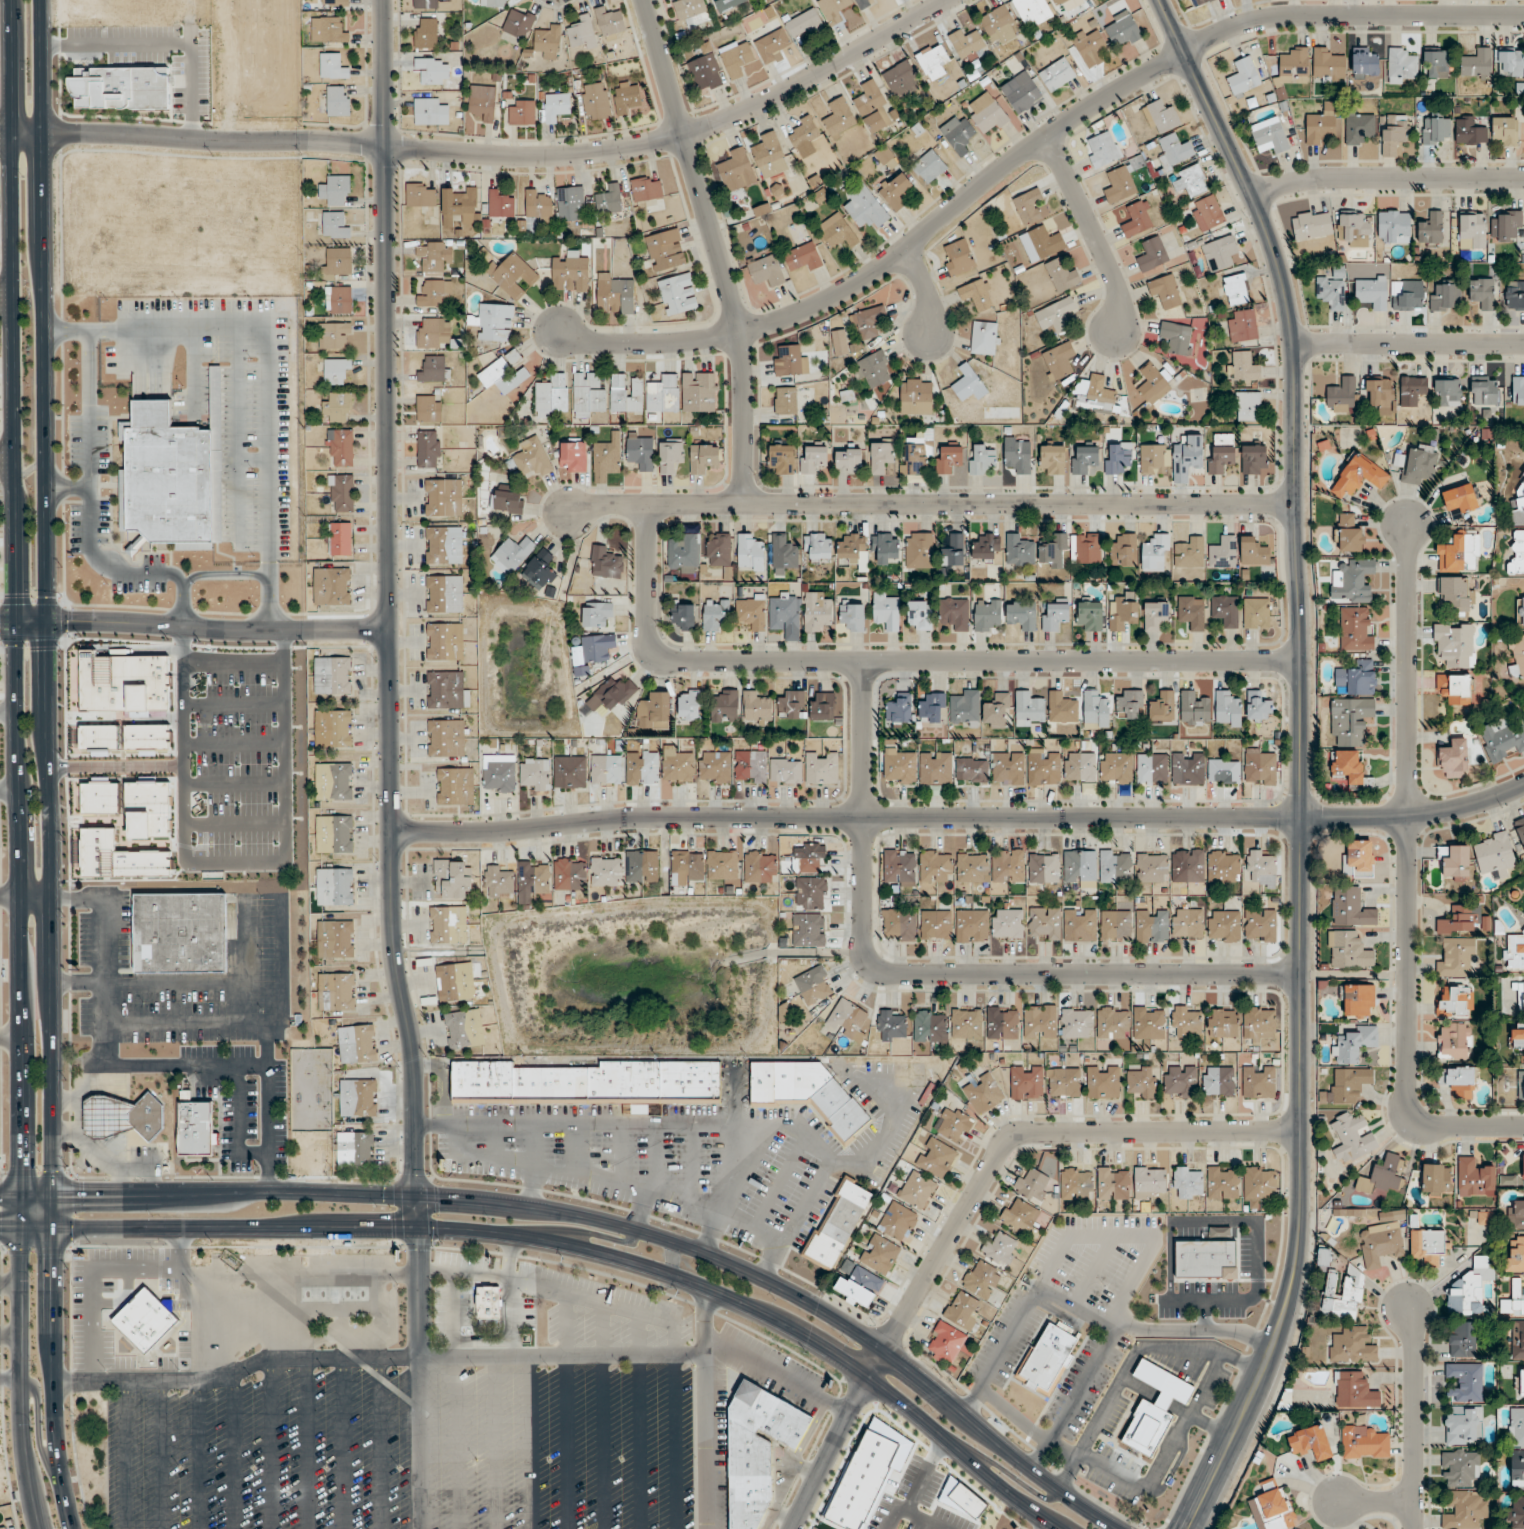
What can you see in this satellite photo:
building: (1058, 2)
building: (1200, 2)
building: (335, 3)
building: (493, 3)
building: (864, 3)
building: (425, 4)
building: (728, 4)
building: (833, 10)
building: (691, 12)
building: (1032, 12)
building: (610, 23)
building: (518, 24)
building: (804, 24)
building: (999, 26)
building: (328, 30)
building: (1124, 31)
building: (425, 33)
building: (582, 34)
building: (548, 42)
building: (967, 44)
building: (772, 46)
building: (1090, 46)
building: (739, 59)
building: (933, 61)
building: (1436, 62)
building: (1510, 63)
building: (1364, 64)
building: (1476, 64)
building: (1328, 65)
building: (332, 66)
building: (1401, 66)
building: (706, 68)
building: (1294, 68)
building: (433, 71)
building: (1057, 75)
building: (1244, 78)
building: (901, 80)
building: (1021, 92)
building: (627, 98)
building: (338, 101)
building: (596, 101)
building: (483, 104)
building: (871, 106)
building: (556, 107)
building: (430, 112)
building: (521, 113)
building: (987, 114)
building: (838, 117)
building: (1161, 117)
building: (1319, 126)
building: (1359, 128)
building: (1395, 129)
building: (1437, 130)
building: (1505, 130)
building: (1470, 131)
building: (958, 135)
building: (1270, 136)
road: (1029, 149)
building: (1103, 150)
building: (1175, 151)
road: (490, 155)
building: (770, 156)
building: (929, 167)
building: (737, 171)
road: (1386, 177)
building: (1191, 181)
building: (1120, 184)
building: (336, 191)
building: (647, 191)
building: (896, 191)
building: (421, 195)
building: (610, 200)
building: (569, 203)
building: (460, 205)
building: (500, 205)
building: (539, 205)
building: (1029, 206)
building: (865, 208)
building: (1208, 213)
building: (1138, 219)
building: (336, 225)
building: (1312, 225)
building: (1394, 226)
building: (1506, 226)
building: (1430, 229)
building: (1352, 230)
road: (1092, 231)
building: (1472, 231)
building: (837, 232)
building: (1042, 243)
road: (714, 248)
building: (665, 250)
building: (1219, 253)
building: (1152, 254)
building: (434, 257)
building: (803, 258)
building: (959, 258)
building: (338, 263)
building: (766, 270)
building: (570, 273)
building: (1061, 275)
building: (513, 276)
road: (926, 289)
building: (1236, 290)
building: (1332, 291)
building: (1372, 291)
building: (1165, 292)
building: (434, 293)
building: (1483, 293)
building: (678, 294)
building: (614, 295)
building: (977, 295)
building: (1514, 295)
road: (5, 296)
building: (1445, 296)
building: (1410, 297)
building: (338, 300)
building: (1056, 315)
building: (493, 323)
building: (867, 323)
building: (1242, 326)
building: (430, 333)
building: (334, 335)
building: (985, 338)
building: (1176, 338)
building: (840, 343)
road: (1409, 343)
building: (1059, 360)
building: (790, 361)
building: (1243, 367)
building: (434, 369)
building: (875, 369)
building: (336, 370)
building: (503, 375)
road: (270, 376)
building: (967, 384)
building: (1152, 384)
building: (1412, 390)
building: (1484, 390)
building: (1518, 391)
building: (699, 392)
building: (1447, 393)
building: (663, 394)
building: (626, 395)
building: (1095, 395)
building: (1341, 395)
building: (1380, 395)
building: (552, 396)
building: (589, 396)
building: (916, 396)
building: (786, 400)
building: (337, 407)
building: (1247, 407)
building: (429, 409)
road: (88, 427)
building: (341, 447)
building: (429, 449)
building: (640, 451)
building: (1221, 453)
building: (1018, 454)
building: (915, 455)
building: (670, 456)
building: (881, 456)
building: (1187, 456)
road: (6, 457)
building: (573, 457)
building: (606, 458)
building: (704, 458)
building: (1117, 458)
building: (532, 459)
building: (782, 459)
building: (813, 459)
building: (948, 459)
building: (981, 459)
building: (1052, 460)
building: (1085, 460)
building: (1154, 460)
building: (1253, 460)
building: (848, 461)
building: (1420, 464)
building: (161, 471)
building: (1358, 477)
building: (341, 493)
building: (443, 498)
building: (508, 501)
building: (1461, 501)
road: (932, 503)
building: (1517, 509)
building: (1348, 534)
building: (340, 539)
building: (444, 545)
building: (818, 547)
building: (851, 547)
building: (885, 547)
building: (987, 548)
building: (1085, 548)
building: (719, 550)
building: (919, 550)
building: (1019, 550)
building: (953, 551)
building: (1053, 551)
building: (1124, 551)
building: (1223, 552)
building: (1253, 552)
building: (514, 553)
building: (683, 553)
building: (750, 553)
building: (1190, 553)
building: (1456, 553)
building: (783, 554)
building: (1155, 554)
building: (1517, 555)
building: (605, 563)
building: (541, 570)
road: (122, 573)
building: (1352, 582)
building: (332, 587)
building: (1456, 593)
building: (444, 594)
building: (817, 610)
building: (887, 610)
building: (1225, 611)
building: (1521, 611)
building: (1123, 612)
building: (1191, 612)
building: (1256, 613)
building: (596, 614)
building: (715, 614)
building: (751, 614)
building: (955, 614)
road: (386, 615)
building: (785, 615)
building: (987, 615)
building: (1022, 615)
building: (852, 616)
building: (919, 616)
building: (1055, 616)
building: (1090, 616)
building: (1156, 616)
building: (682, 617)
road: (25, 619)
traffic signals: (50, 619)
traffic signals: (16, 620)
road: (218, 629)
building: (1356, 630)
building: (444, 642)
building: (1454, 645)
building: (595, 649)
building: (1516, 655)
road: (902, 660)
building: (333, 676)
building: (1357, 680)
building: (1455, 689)
building: (447, 691)
building: (614, 694)
building: (690, 705)
building: (1130, 705)
building: (792, 706)
building: (822, 706)
building: (725, 707)
building: (756, 707)
building: (1162, 707)
building: (1258, 707)
building: (965, 708)
building: (1062, 708)
building: (932, 709)
building: (1029, 709)
building: (899, 710)
building: (1194, 710)
building: (1227, 710)
building: (997, 711)
building: (1095, 711)
building: (654, 712)
building: (1351, 720)
building: (334, 729)
building: (445, 738)
building: (1502, 740)
road: (1301, 762)
building: (1453, 762)
road: (17, 765)
road: (51, 765)
building: (677, 766)
building: (714, 767)
building: (750, 767)
building: (1044, 767)
building: (1259, 767)
building: (642, 768)
building: (821, 768)
building: (900, 768)
building: (935, 768)
building: (1008, 768)
building: (1080, 768)
building: (1116, 769)
building: (1152, 769)
building: (1188, 769)
building: (1350, 769)
building: (605, 770)
building: (972, 770)
building: (786, 771)
building: (1223, 772)
building: (570, 773)
building: (499, 774)
building: (534, 775)
building: (334, 782)
building: (455, 787)
road: (959, 817)
building: (1520, 833)
building: (334, 834)
building: (1495, 855)
building: (809, 858)
building: (1358, 859)
building: (1454, 862)
building: (722, 866)
building: (936, 866)
building: (1008, 866)
building: (1115, 866)
building: (1188, 866)
building: (1261, 866)
building: (642, 867)
building: (760, 867)
building: (1080, 867)
building: (1152, 867)
building: (1223, 867)
building: (687, 868)
building: (899, 868)
building: (972, 868)
building: (1043, 868)
building: (606, 872)
building: (570, 874)
road: (1408, 877)
building: (453, 879)
building: (533, 880)
building: (499, 882)
building: (335, 887)
building: (810, 892)
road: (35, 896)
building: (1351, 908)
building: (1460, 920)
building: (1188, 923)
building: (1007, 924)
building: (1044, 924)
building: (448, 925)
building: (899, 925)
building: (936, 925)
building: (1080, 925)
building: (1116, 925)
building: (1260, 925)
building: (972, 926)
building: (1152, 926)
building: (1224, 926)
building: (809, 930)
building: (181, 933)
building: (335, 939)
road: (106, 942)
building: (1348, 950)
building: (1514, 953)
building: (1457, 959)
road: (931, 974)
building: (455, 982)
building: (814, 985)
building: (336, 992)
building: (1520, 996)
building: (1358, 1000)
building: (1455, 1001)
building: (846, 1021)
building: (1040, 1022)
building: (1186, 1022)
building: (1002, 1023)
building: (1077, 1023)
building: (1113, 1023)
building: (1149, 1023)
building: (1222, 1023)
building: (967, 1024)
building: (1259, 1024)
building: (891, 1027)
building: (931, 1027)
building: (465, 1029)
building: (1517, 1036)
building: (1454, 1041)
building: (357, 1044)
building: (1353, 1045)
building: (582, 1077)
road: (444, 1079)
building: (1180, 1081)
building: (1218, 1081)
building: (1458, 1081)
building: (1064, 1082)
building: (1103, 1082)
building: (1142, 1082)
building: (1258, 1082)
building: (1026, 1083)
building: (801, 1084)
building: (1348, 1084)
building: (1520, 1085)
building: (983, 1094)
building: (358, 1098)
building: (122, 1117)
road: (631, 1120)
building: (954, 1125)
building: (195, 1127)
building: (1352, 1138)
building: (355, 1151)
building: (936, 1158)
road: (831, 1161)
road: (533, 1163)
traffic signals: (22, 1164)
building: (1523, 1167)
building: (1383, 1175)
road: (652, 1177)
building: (1475, 1178)
building: (1436, 1180)
road: (605, 1181)
building: (1150, 1183)
building: (1188, 1183)
building: (1223, 1183)
building: (1260, 1183)
building: (1076, 1184)
building: (1113, 1184)
building: (1033, 1185)
road: (728, 1186)
building: (917, 1190)
traffic signals: (85, 1193)
traffic signals: (417, 1196)
road: (967, 1203)
building: (1516, 1215)
building: (1019, 1216)
building: (833, 1218)
road: (604, 1222)
building: (898, 1222)
traffic signals: (418, 1228)
road: (588, 1233)
building: (1381, 1241)
road: (571, 1246)
building: (1428, 1247)
building: (1000, 1248)
building: (880, 1255)
building: (1515, 1257)
building: (1205, 1259)
traffic signals: (52, 1260)
building: (981, 1280)
building: (859, 1287)
building: (334, 1294)
building: (1344, 1296)
building: (1470, 1296)
building: (1513, 1301)
building: (488, 1303)
building: (963, 1311)
building: (145, 1321)
building: (1461, 1340)
building: (1517, 1341)
building: (946, 1342)
building: (1352, 1346)
building: (1042, 1350)
road: (377, 1356)
road: (420, 1378)
building: (1464, 1383)
building: (1520, 1383)
building: (1355, 1391)
road: (704, 1408)
building: (1155, 1409)
road: (1414, 1417)
building: (1463, 1425)
building: (1516, 1428)
building: (1310, 1443)
building: (1364, 1443)
building: (750, 1446)
building: (1459, 1468)
building: (1517, 1469)
road: (1013, 1475)
road: (1371, 1504)
building: (1271, 1508)
building: (1465, 1511)
building: (1516, 1515)
building: (4, 1528)

